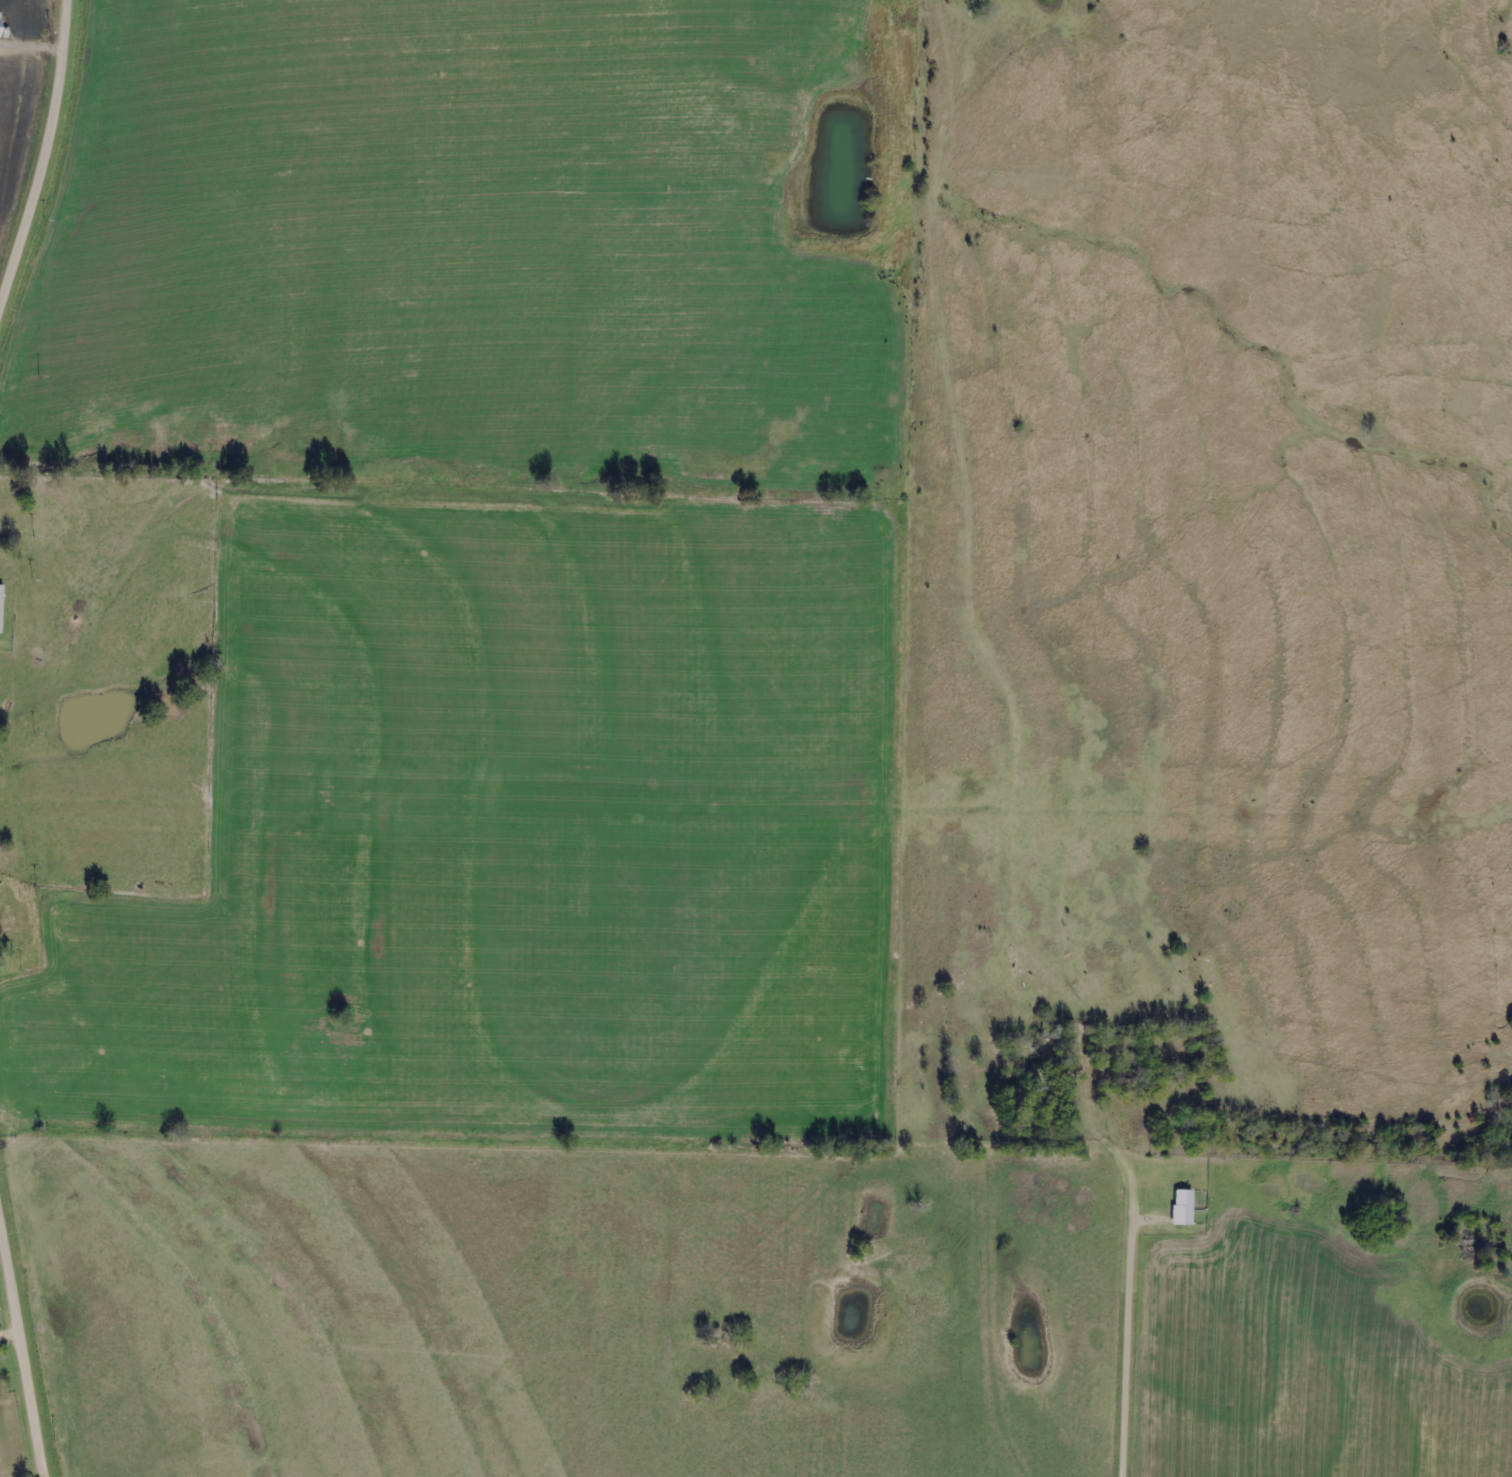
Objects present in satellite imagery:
road: (29, 146)
building: (1, 606)
building: (1182, 1206)
road: (1136, 1335)
road: (16, 1427)

